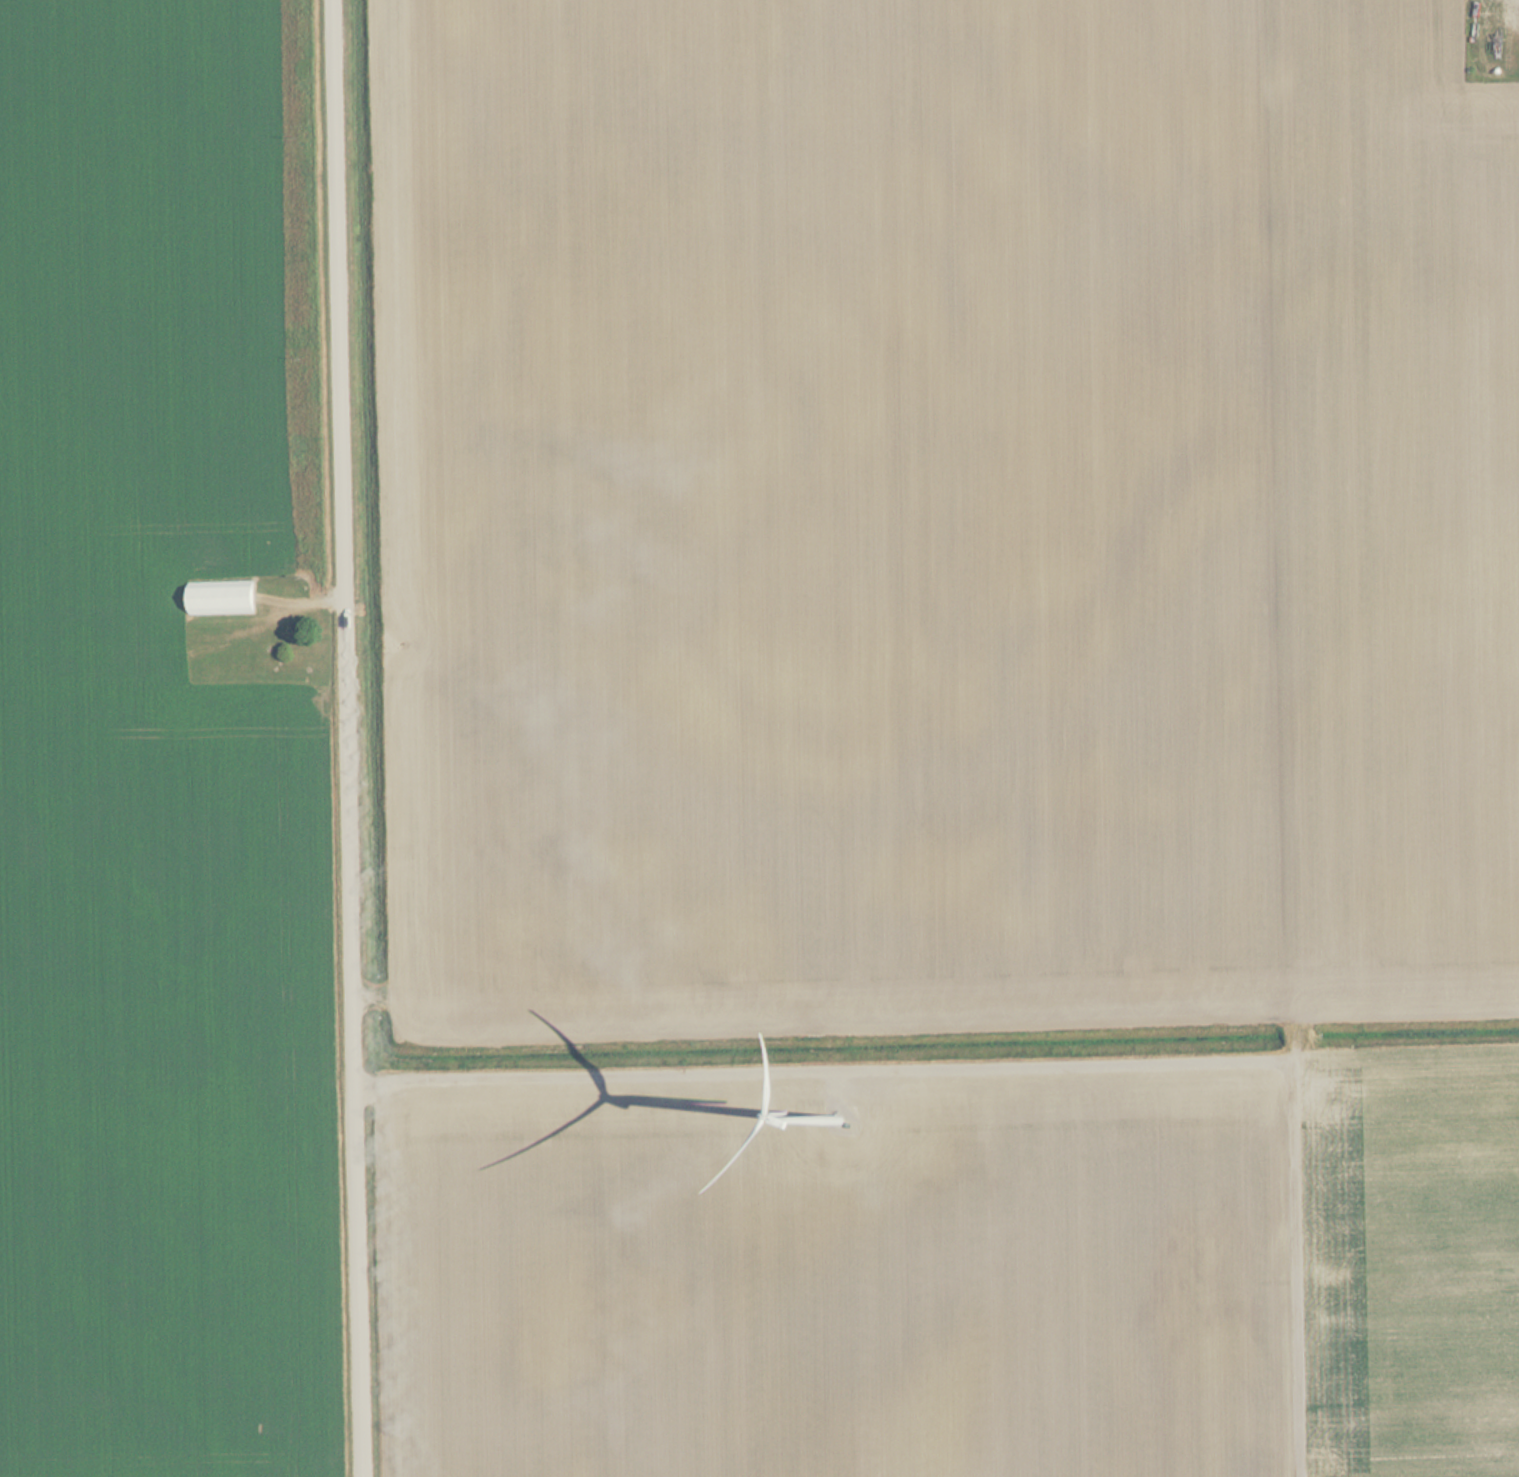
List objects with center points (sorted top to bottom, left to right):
building: (222, 596)
road: (353, 738)
road: (1040, 1039)
wind turbine: (831, 1113)

